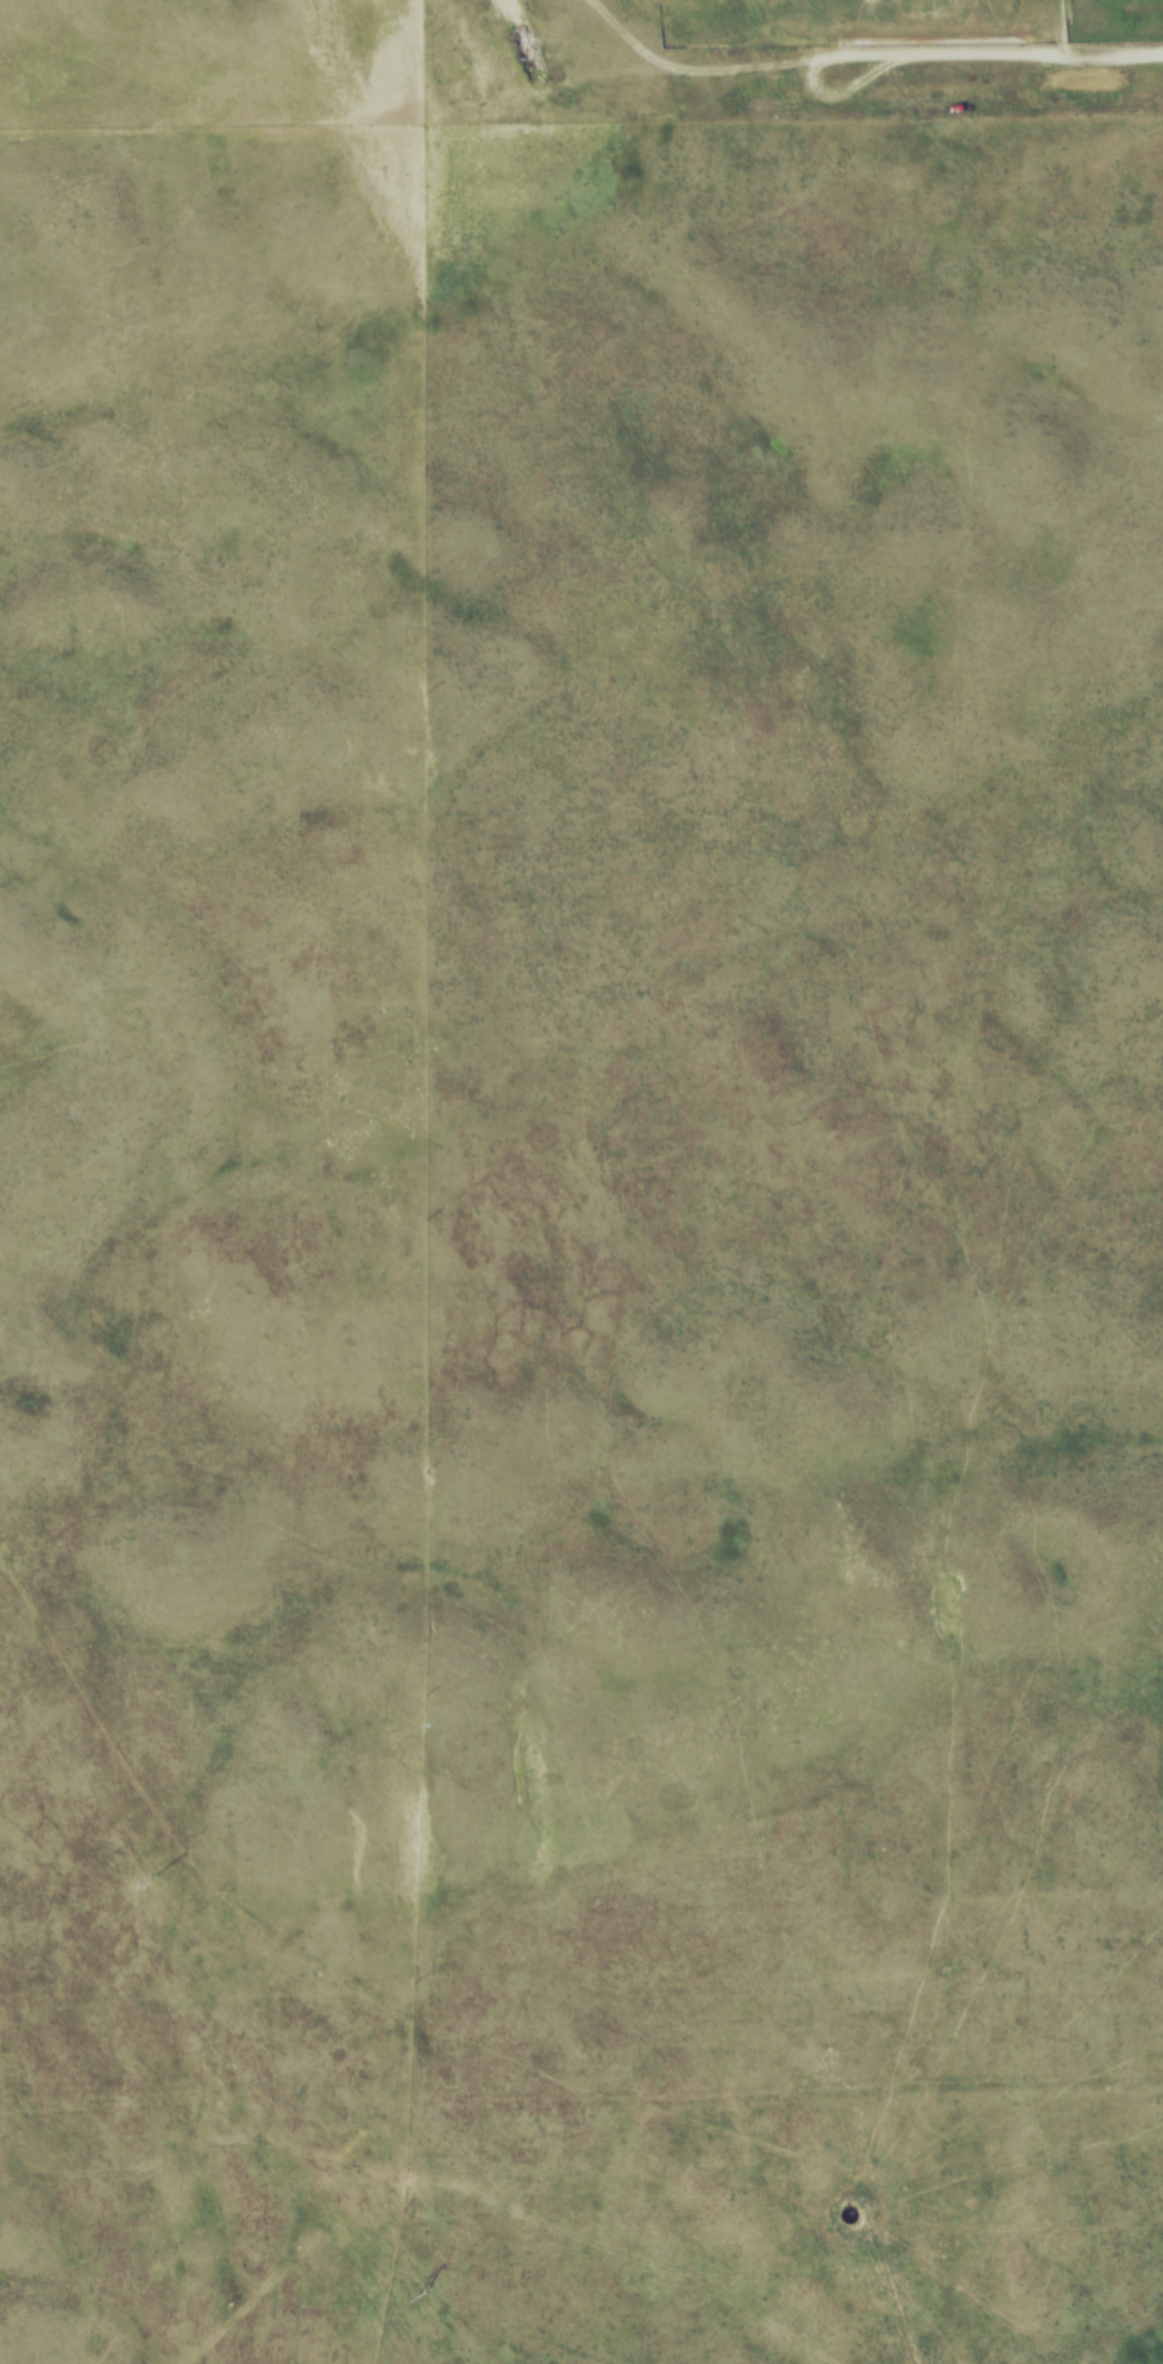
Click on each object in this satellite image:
power tower: (152, 1880)
power tower: (426, 2293)

